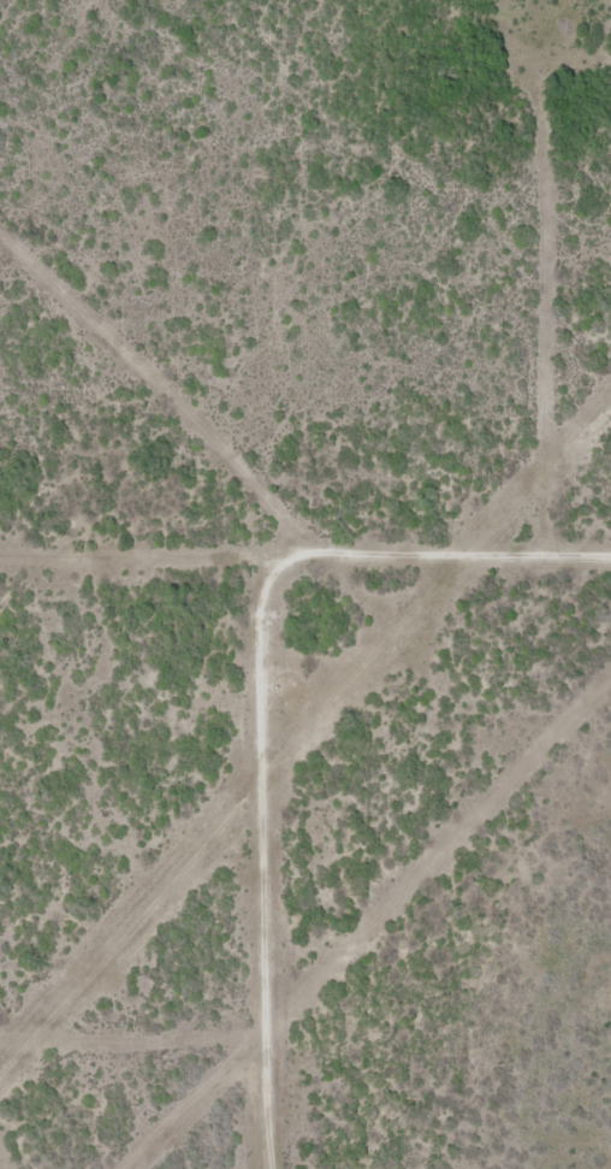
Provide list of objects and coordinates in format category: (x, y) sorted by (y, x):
road: (444, 567)
road: (278, 869)

